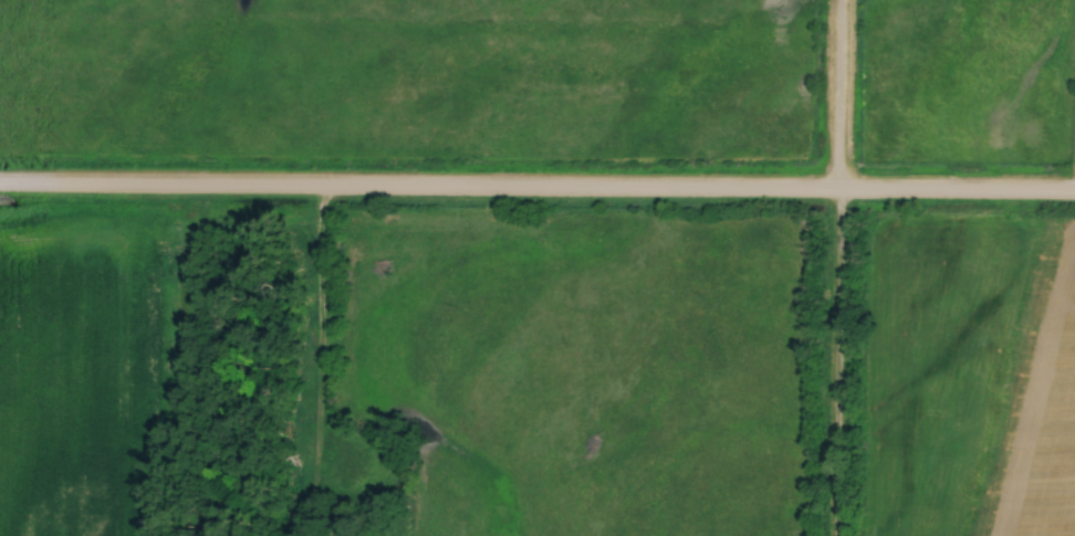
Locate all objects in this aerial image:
road: (838, 97)
road: (537, 195)
road: (301, 362)
road: (838, 366)

